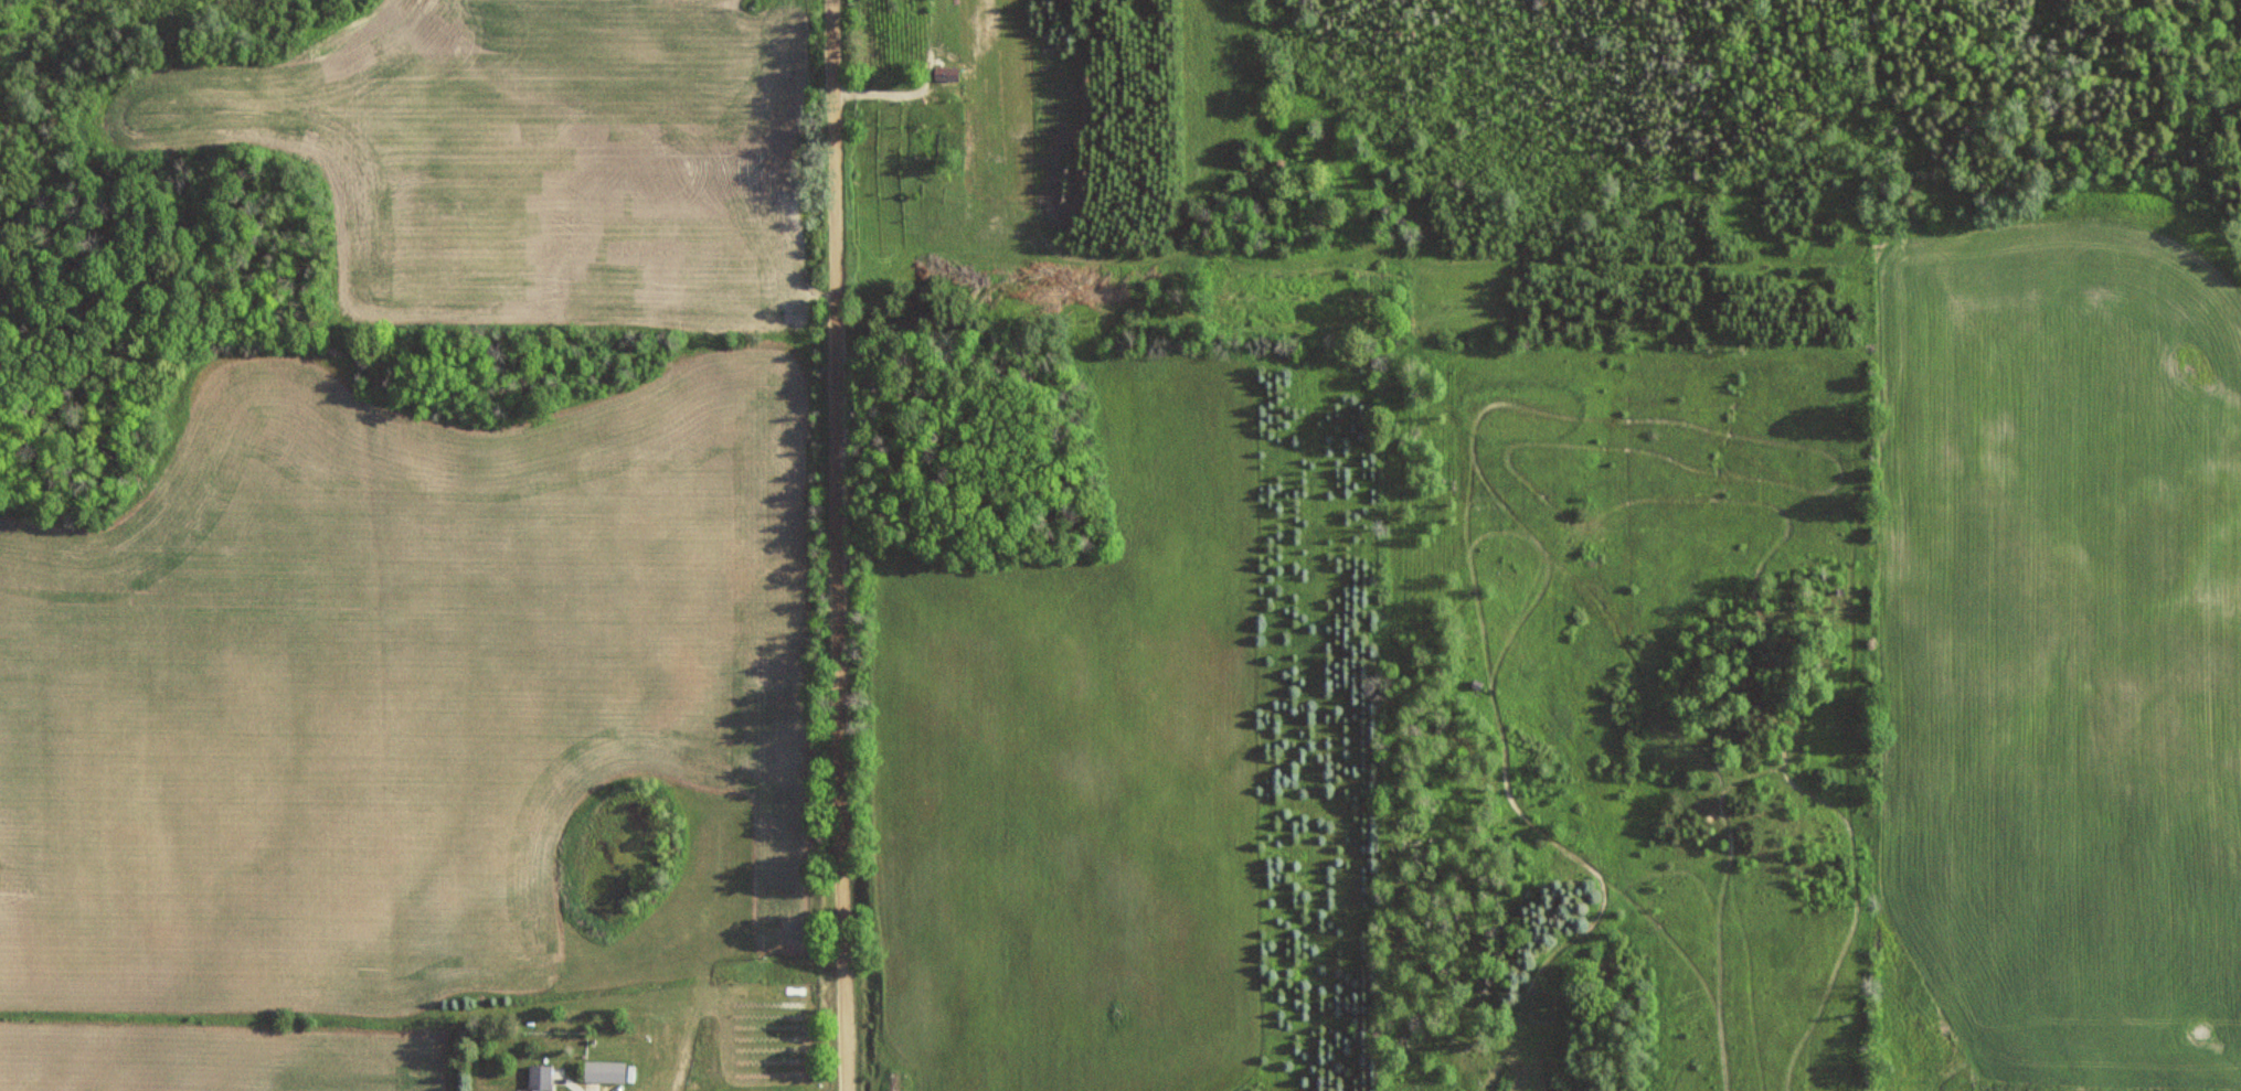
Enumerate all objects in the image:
building: (945, 74)
road: (836, 545)
building: (603, 1071)
building: (538, 1078)

